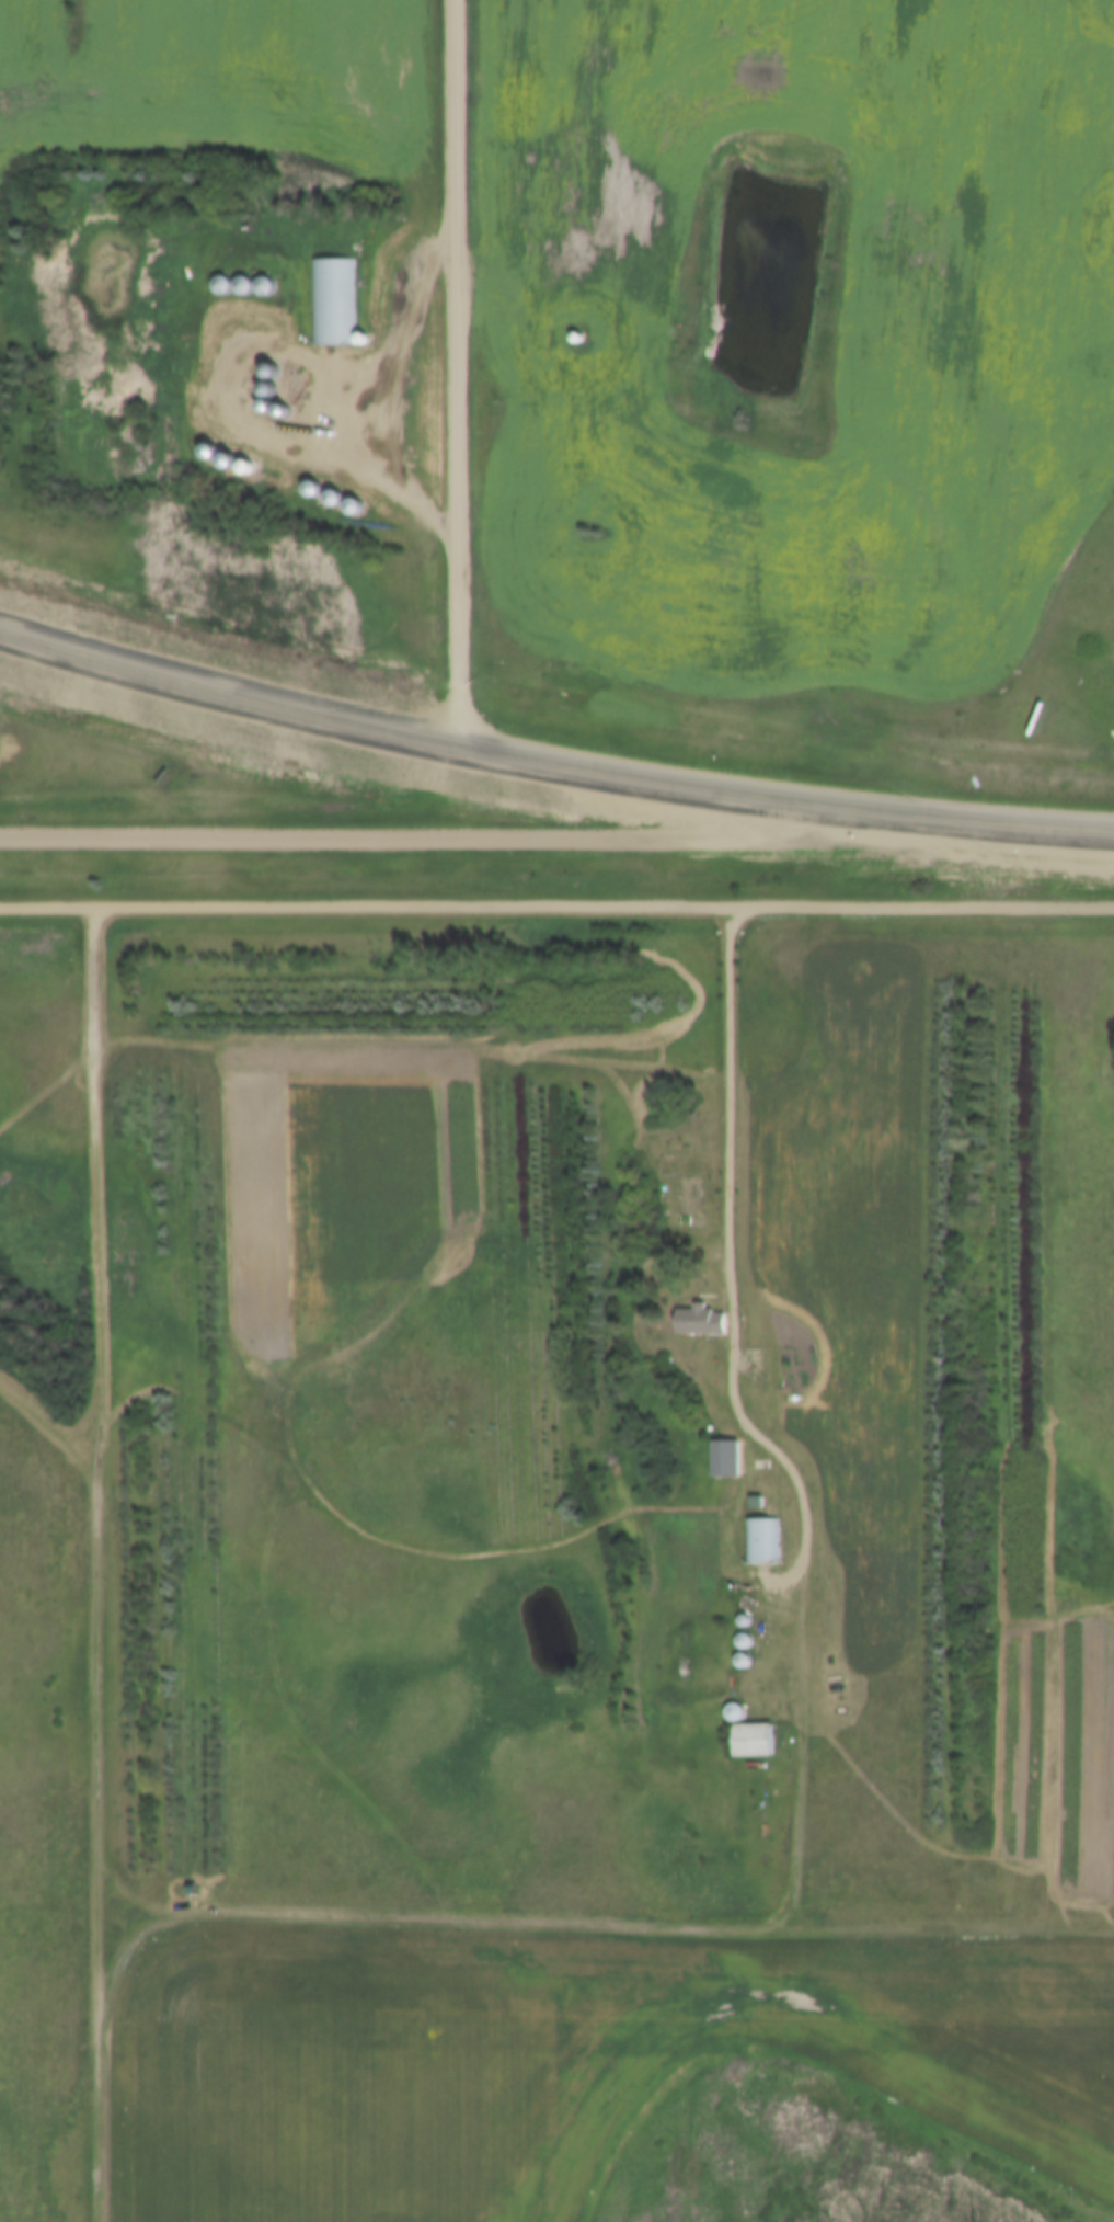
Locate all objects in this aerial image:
building: (222, 277)
silo: (222, 277)
building: (243, 278)
silo: (243, 278)
building: (265, 280)
silo: (265, 280)
building: (332, 290)
building: (585, 327)
silo: (585, 327)
building: (284, 357)
silo: (284, 357)
road: (455, 369)
building: (286, 373)
silo: (286, 373)
building: (287, 389)
silo: (287, 389)
building: (305, 392)
silo: (305, 392)
building: (241, 432)
silo: (241, 432)
building: (261, 440)
silo: (261, 440)
building: (278, 446)
silo: (278, 446)
building: (351, 466)
silo: (351, 466)
building: (374, 474)
silo: (374, 474)
building: (395, 481)
silo: (395, 481)
road: (552, 756)
road: (497, 842)
road: (556, 905)
road: (731, 1102)
building: (701, 1310)
building: (728, 1447)
building: (756, 1491)
building: (762, 1530)
road: (91, 1563)
building: (747, 1611)
silo: (747, 1611)
building: (747, 1631)
silo: (747, 1631)
building: (747, 1651)
silo: (747, 1651)
building: (737, 1702)
silo: (737, 1702)
building: (753, 1730)

